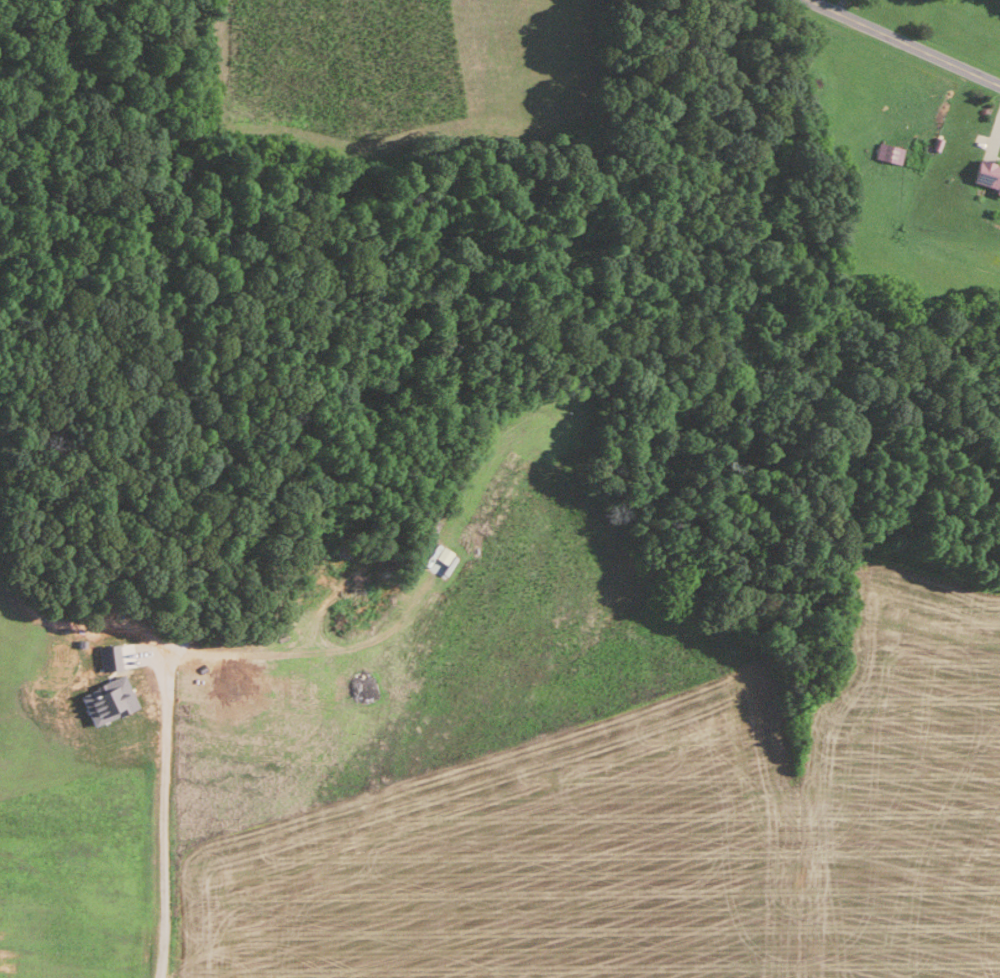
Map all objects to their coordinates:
road: (904, 40)
building: (886, 152)
building: (986, 174)
road: (162, 832)

